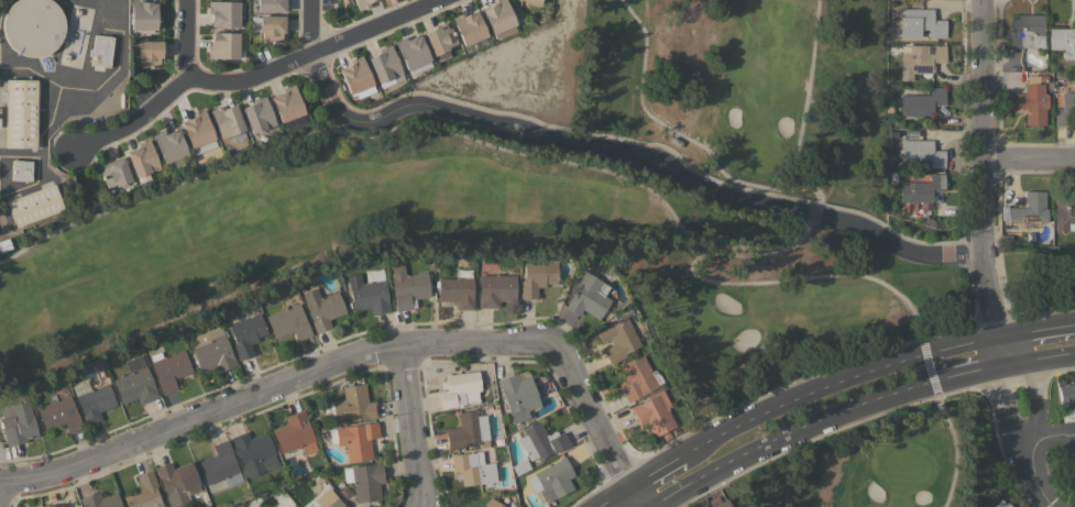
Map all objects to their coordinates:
building: (534, 1)
building: (361, 3)
building: (271, 5)
building: (223, 13)
building: (142, 14)
building: (498, 19)
building: (921, 23)
building: (30, 26)
building: (469, 26)
building: (268, 27)
building: (1025, 31)
building: (440, 40)
building: (1063, 41)
road: (330, 44)
building: (222, 45)
building: (99, 49)
building: (149, 53)
building: (413, 53)
road: (187, 59)
building: (920, 60)
building: (384, 65)
building: (356, 78)
park: (738, 84)
building: (1031, 100)
building: (921, 102)
building: (286, 103)
building: (1064, 109)
building: (19, 113)
building: (257, 114)
building: (226, 120)
building: (296, 121)
road: (139, 123)
road: (436, 124)
building: (198, 132)
building: (168, 145)
road: (605, 146)
building: (921, 153)
road: (1025, 158)
building: (142, 161)
road: (976, 168)
building: (20, 169)
building: (114, 174)
road: (746, 180)
building: (921, 188)
building: (33, 203)
building: (1025, 211)
building: (1064, 211)
park: (146, 266)
building: (538, 275)
road: (884, 283)
building: (407, 286)
building: (494, 288)
building: (457, 289)
building: (368, 295)
building: (589, 296)
building: (323, 310)
building: (288, 322)
road: (1038, 329)
building: (246, 334)
building: (616, 339)
building: (211, 350)
road: (1012, 351)
road: (998, 353)
road: (358, 354)
road: (1050, 363)
building: (168, 370)
road: (1010, 370)
road: (964, 376)
building: (637, 378)
road: (836, 381)
building: (135, 386)
building: (459, 389)
building: (517, 396)
building: (1066, 401)
building: (95, 403)
building: (351, 405)
road: (1034, 412)
building: (59, 414)
building: (654, 414)
road: (1006, 420)
building: (18, 422)
road: (410, 426)
building: (468, 431)
road: (1056, 432)
building: (294, 433)
road: (788, 436)
building: (354, 439)
building: (540, 441)
building: (254, 452)
building: (220, 465)
building: (472, 467)
road: (655, 469)
park: (855, 472)
building: (365, 480)
building: (551, 480)
building: (176, 482)
road: (1041, 483)
building: (143, 493)
road: (611, 496)
building: (100, 500)
building: (333, 503)
building: (717, 503)
building: (492, 504)
building: (1000, 504)
building: (314, 505)
building: (702, 505)
building: (51, 506)

